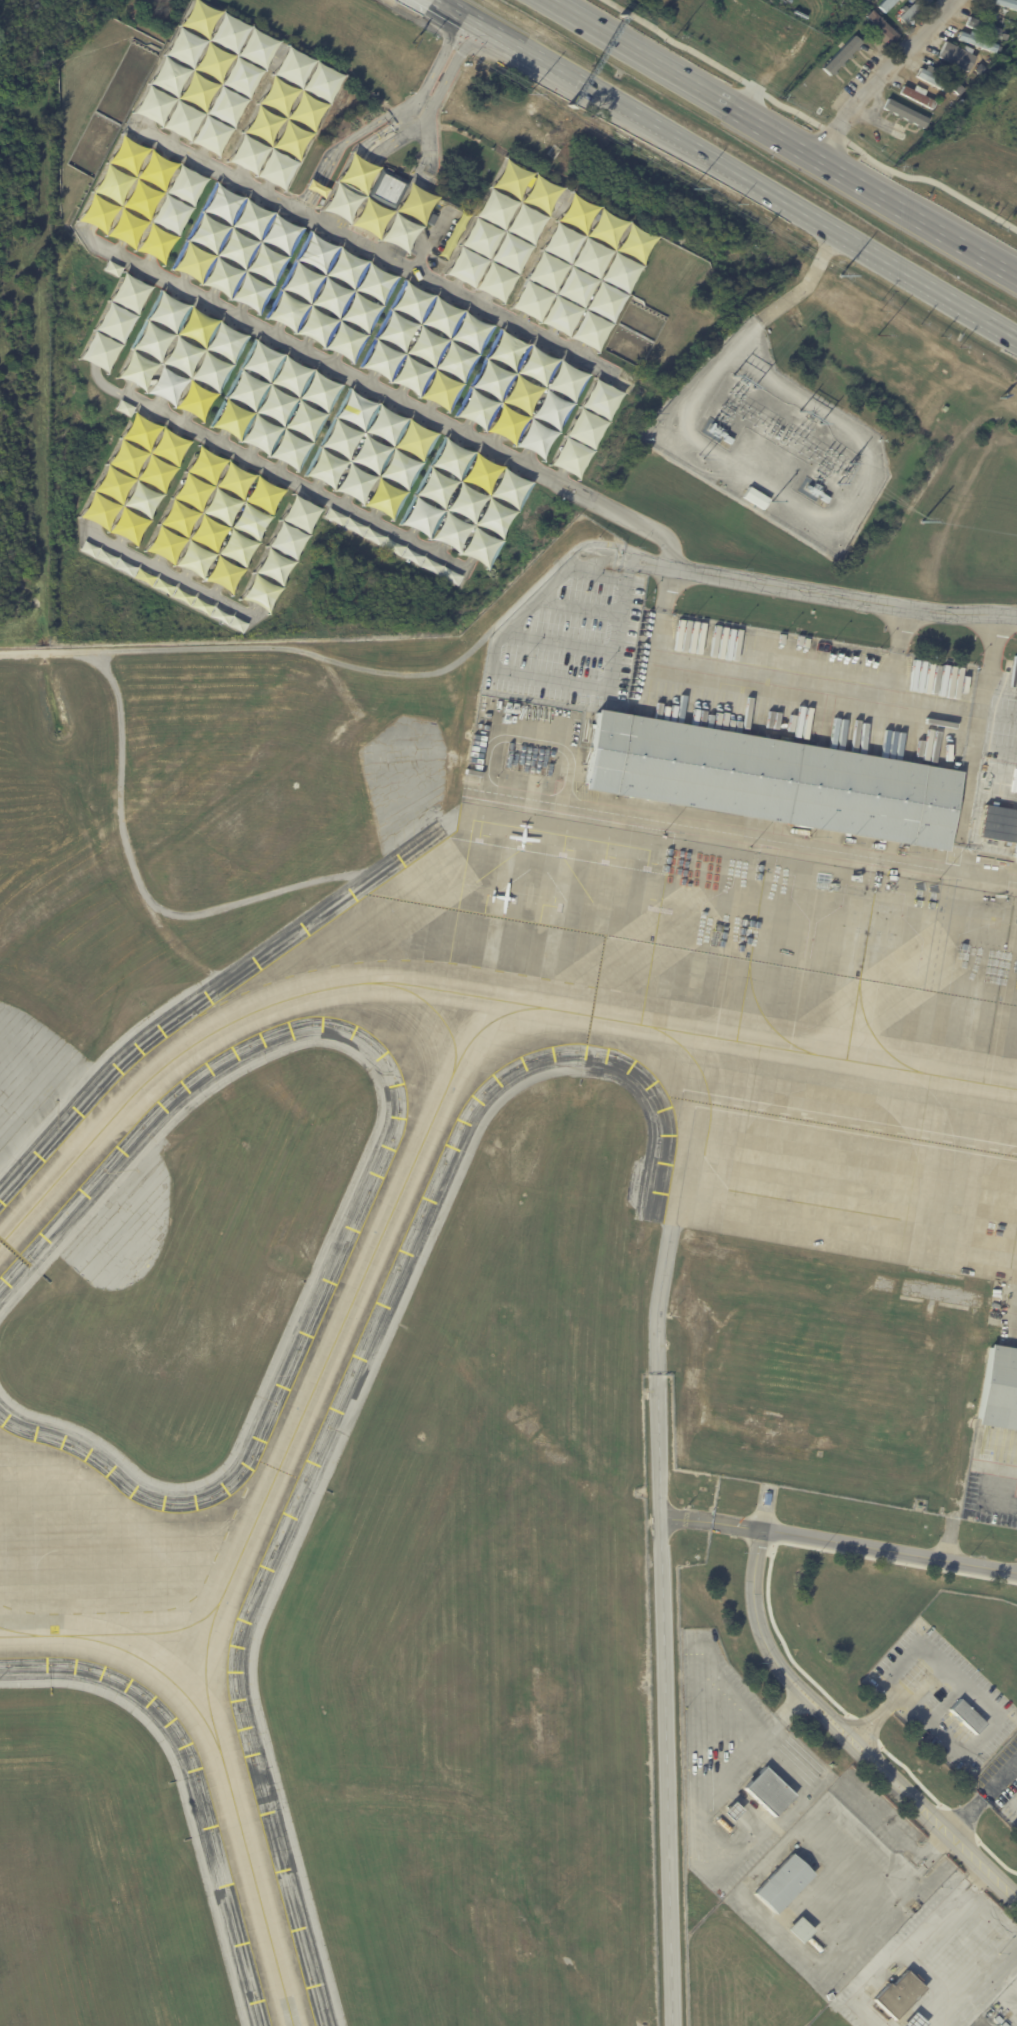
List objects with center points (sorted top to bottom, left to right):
building: (921, 3)
building: (1005, 3)
building: (886, 4)
road: (456, 8)
building: (883, 25)
building: (983, 27)
building: (1007, 36)
building: (979, 42)
building: (843, 45)
building: (867, 47)
road: (260, 49)
building: (958, 57)
road: (173, 68)
building: (874, 70)
building: (205, 76)
road: (881, 77)
road: (677, 78)
building: (934, 79)
road: (202, 83)
building: (959, 91)
building: (919, 97)
road: (233, 99)
road: (436, 102)
road: (404, 110)
road: (266, 116)
building: (285, 117)
road: (806, 121)
building: (903, 121)
road: (652, 123)
road: (141, 130)
road: (296, 131)
road: (383, 132)
road: (170, 145)
road: (364, 150)
road: (428, 155)
road: (381, 156)
road: (202, 161)
road: (335, 162)
road: (234, 178)
road: (113, 183)
road: (340, 183)
road: (311, 185)
building: (317, 187)
road: (348, 187)
building: (387, 187)
road: (321, 189)
road: (352, 189)
road: (361, 193)
road: (264, 194)
road: (879, 197)
building: (143, 198)
road: (144, 199)
road: (303, 200)
building: (377, 205)
road: (313, 206)
road: (572, 207)
road: (401, 213)
road: (175, 214)
road: (290, 215)
road: (323, 217)
road: (335, 224)
road: (485, 227)
road: (328, 228)
road: (344, 228)
building: (503, 229)
road: (91, 233)
road: (207, 233)
building: (453, 234)
road: (431, 236)
road: (515, 242)
road: (119, 247)
building: (236, 248)
road: (236, 248)
road: (356, 248)
road: (384, 248)
road: (377, 252)
road: (983, 258)
road: (551, 262)
road: (265, 263)
road: (384, 263)
building: (113, 267)
road: (147, 268)
building: (582, 271)
road: (579, 276)
road: (301, 280)
road: (420, 282)
road: (925, 284)
road: (180, 286)
road: (806, 286)
road: (452, 291)
road: (608, 291)
road: (331, 296)
building: (332, 296)
road: (209, 301)
road: (482, 306)
road: (359, 311)
road: (238, 316)
building: (116, 322)
road: (118, 323)
road: (518, 325)
parking lot: (331, 326)
road: (395, 330)
road: (274, 333)
road: (153, 340)
road: (547, 340)
building: (425, 346)
road: (425, 346)
road: (303, 349)
building: (180, 354)
road: (576, 354)
road: (181, 355)
road: (324, 360)
road: (454, 361)
road: (332, 364)
road: (210, 369)
road: (491, 379)
road: (611, 380)
road: (369, 383)
road: (105, 385)
road: (246, 387)
road: (128, 388)
road: (520, 393)
building: (521, 394)
road: (397, 399)
building: (276, 402)
road: (276, 402)
road: (154, 407)
road: (548, 408)
road: (426, 414)
road: (304, 417)
road: (183, 422)
building: (586, 427)
road: (586, 428)
road: (464, 432)
road: (341, 437)
road: (219, 441)
power substation: (771, 442)
road: (492, 446)
building: (369, 452)
road: (371, 453)
road: (248, 455)
road: (521, 461)
road: (399, 467)
road: (277, 470)
road: (123, 472)
road: (561, 476)
building: (136, 478)
road: (294, 482)
road: (150, 486)
road: (437, 486)
road: (314, 489)
building: (756, 498)
building: (465, 500)
road: (465, 500)
road: (346, 501)
road: (186, 504)
road: (624, 514)
road: (375, 515)
road: (493, 515)
building: (215, 518)
road: (215, 519)
power tower: (922, 523)
road: (95, 530)
road: (244, 533)
road: (413, 534)
road: (121, 543)
building: (392, 546)
road: (440, 548)
building: (280, 552)
road: (282, 553)
road: (157, 561)
road: (468, 563)
road: (171, 575)
road: (186, 576)
building: (164, 586)
road: (669, 586)
road: (215, 591)
road: (818, 591)
road: (252, 611)
road: (902, 628)
road: (992, 665)
road: (739, 681)
road: (887, 709)
building: (773, 779)
building: (1013, 837)
airport taxiway: (462, 992)
airport taxiway: (433, 1008)
airport apron: (791, 1019)
airport: (523, 1292)
airport taxiway: (326, 1357)
building: (999, 1388)
road: (999, 1500)
road: (688, 1516)
road: (953, 1540)
road: (864, 1544)
building: (917, 1619)
road: (668, 1623)
airport taxiway: (20, 1631)
road: (778, 1634)
road: (771, 1647)
road: (899, 1659)
airport taxiway: (205, 1677)
building: (924, 1680)
road: (889, 1684)
road: (945, 1687)
parking lot: (942, 1696)
road: (874, 1714)
road: (996, 1714)
building: (966, 1717)
road: (764, 1733)
road: (943, 1734)
airport taxiway: (221, 1758)
building: (769, 1791)
road: (980, 1791)
road: (1003, 1794)
building: (735, 1811)
road: (935, 1818)
road: (981, 1871)
road: (965, 1881)
building: (784, 1883)
road: (970, 1888)
road: (959, 1894)
building: (803, 1930)
road: (962, 1942)
road: (935, 1970)
building: (899, 1994)
building: (828, 1996)
parking lot: (988, 2018)
building: (918, 2021)

